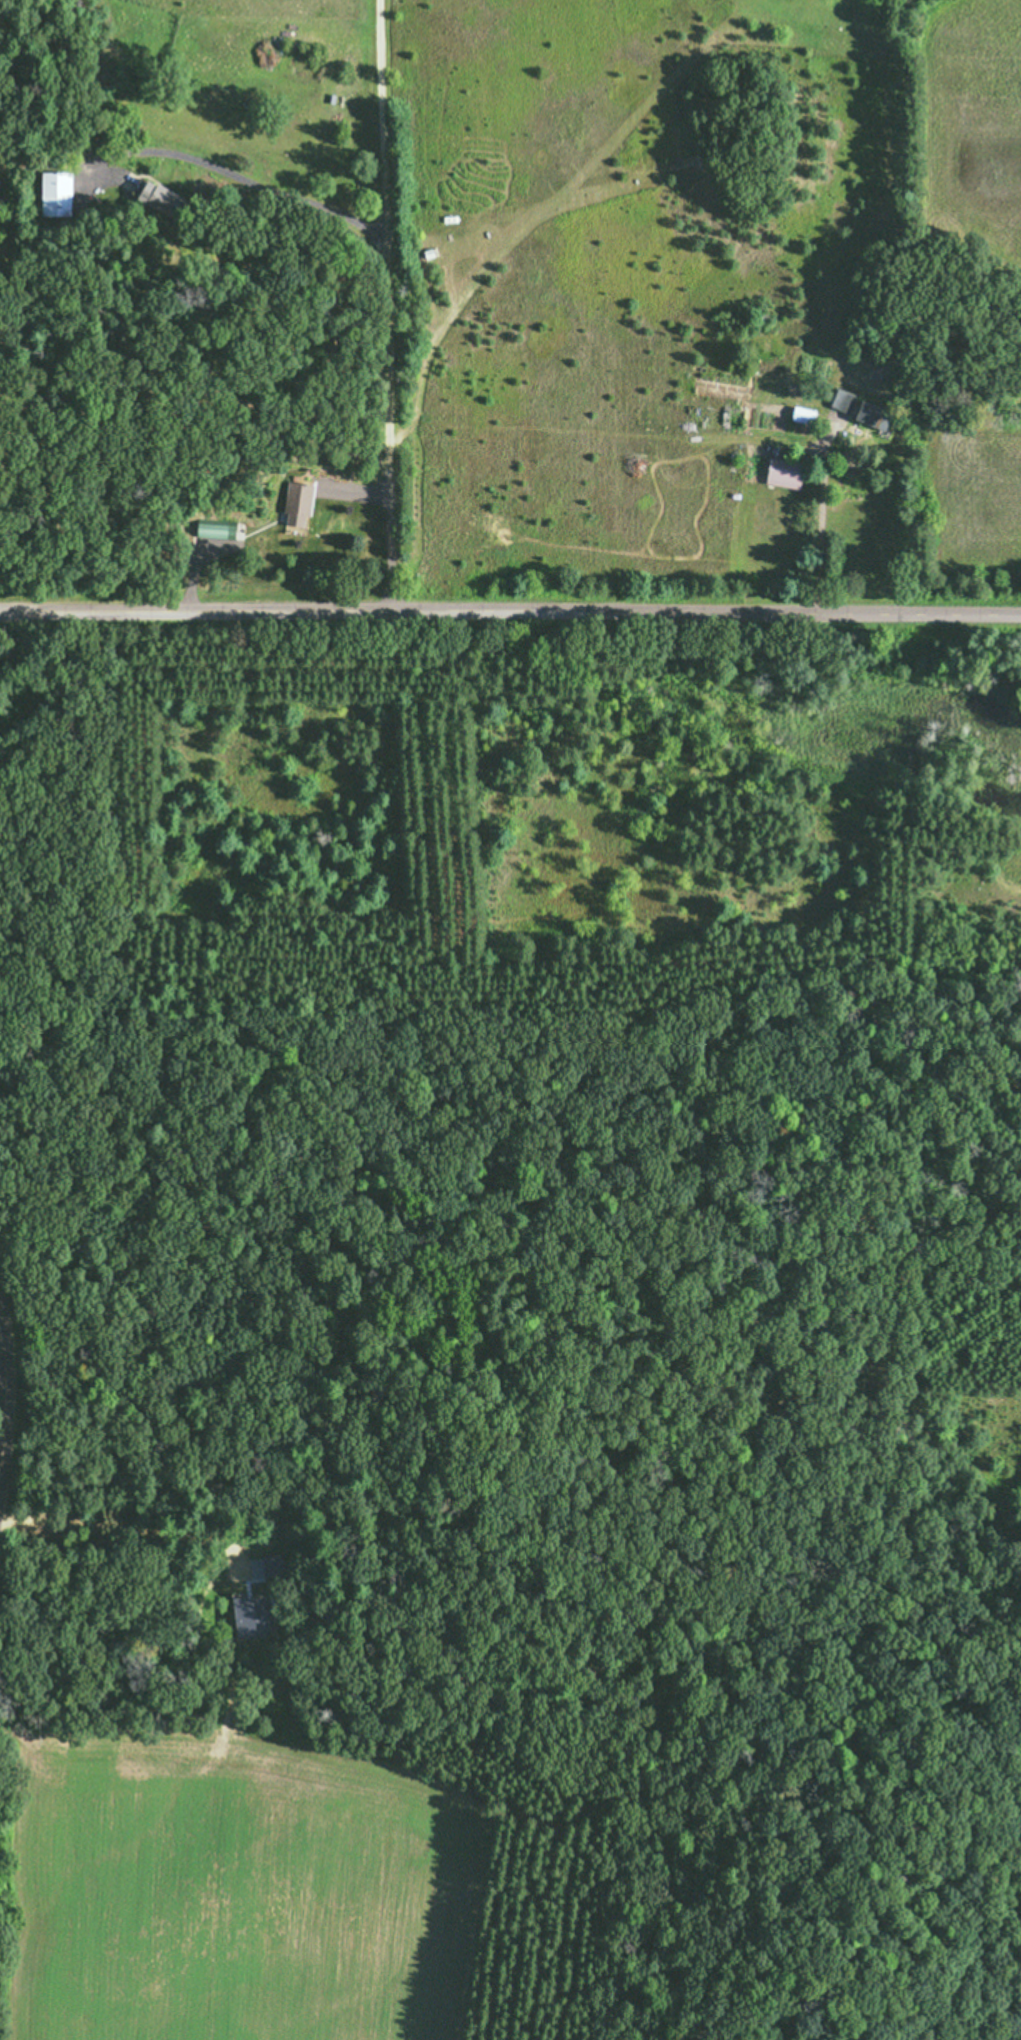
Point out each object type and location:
road: (229, 178)
building: (55, 193)
building: (156, 197)
road: (387, 307)
building: (859, 409)
building: (803, 414)
building: (784, 472)
building: (295, 498)
building: (208, 529)
road: (510, 614)
road: (5, 1396)

